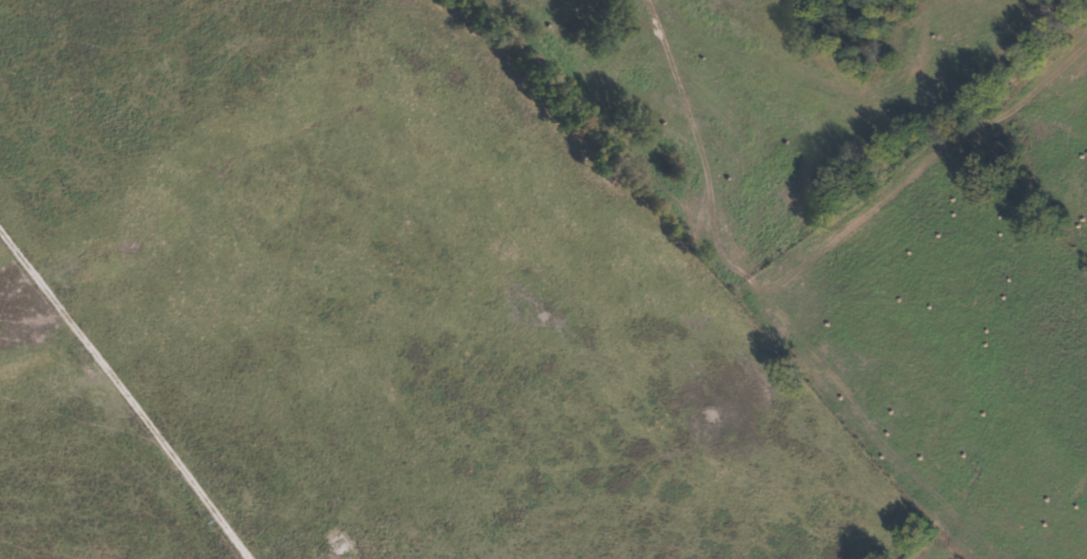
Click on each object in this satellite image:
road: (117, 406)

